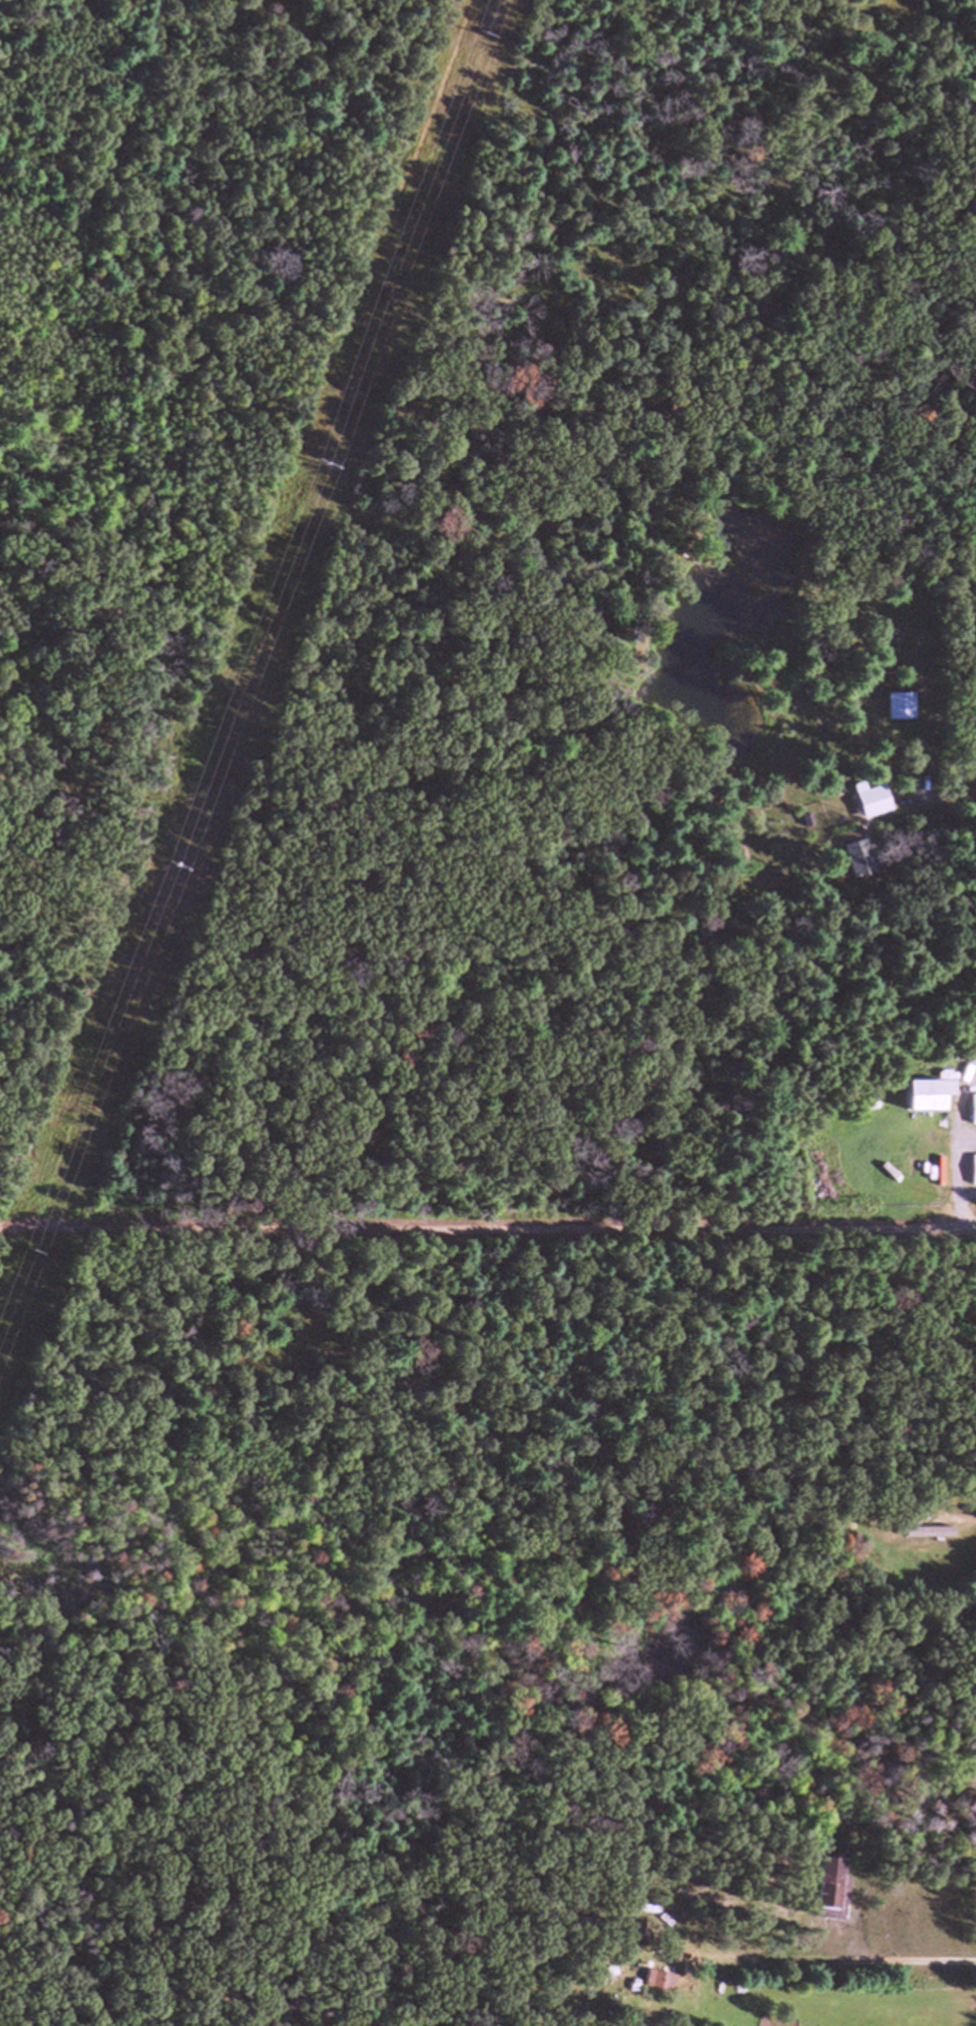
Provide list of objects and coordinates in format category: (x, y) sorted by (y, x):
power tower: (472, 24)
power tower: (313, 446)
building: (898, 706)
building: (867, 800)
power tower: (162, 848)
building: (854, 858)
building: (971, 1110)
building: (971, 1170)
road: (487, 1227)
power tower: (23, 1251)
building: (829, 1888)
road: (792, 1944)
building: (657, 1981)

